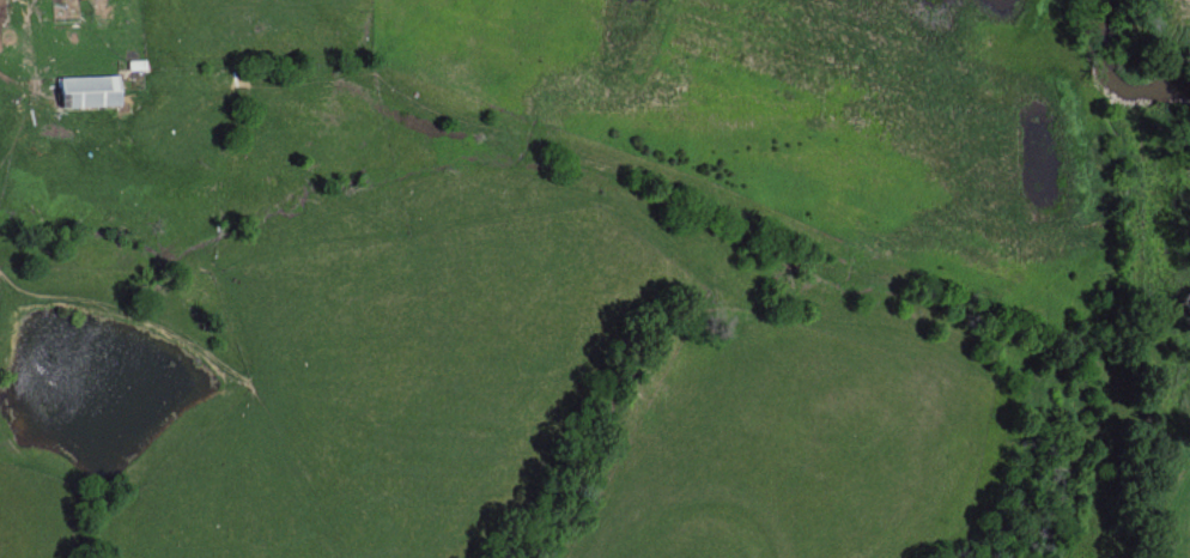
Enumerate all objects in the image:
building: (83, 92)

